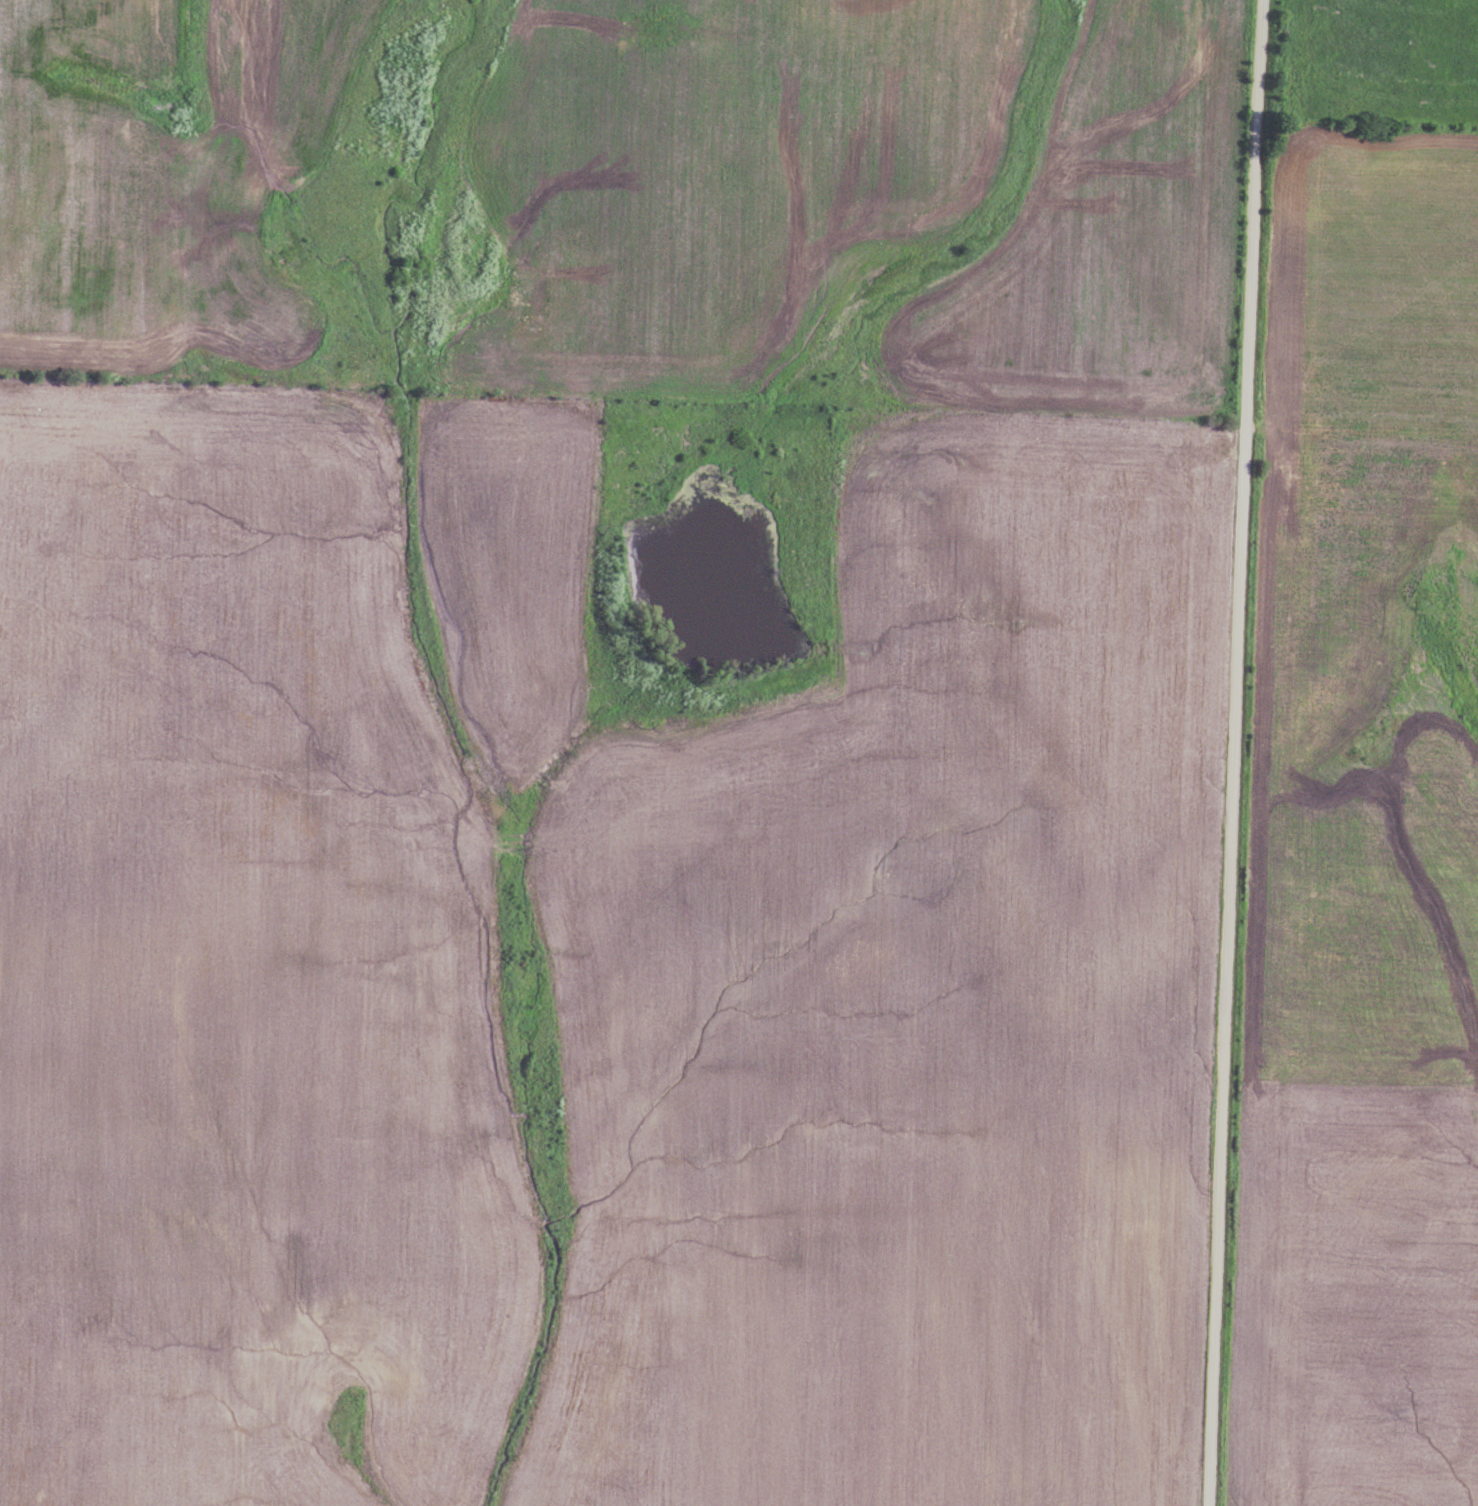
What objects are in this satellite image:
road: (1233, 752)

